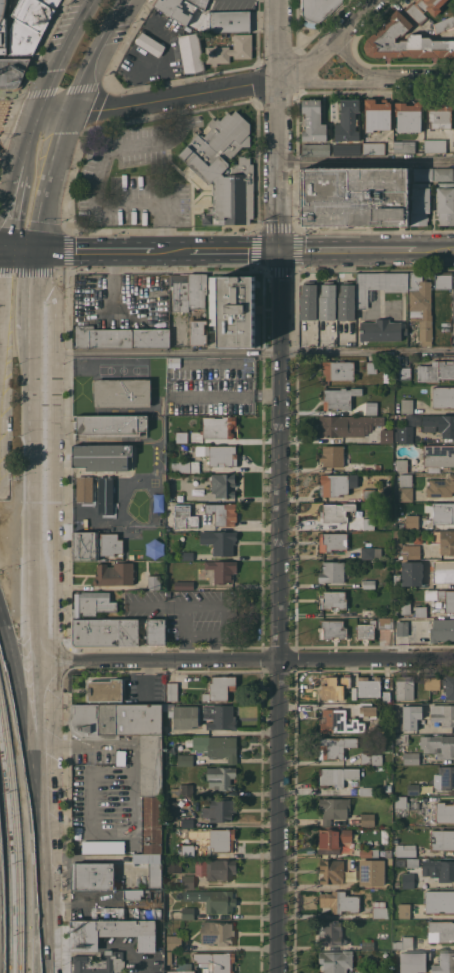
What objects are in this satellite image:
building: (50, 3)
building: (199, 3)
building: (429, 5)
building: (1, 7)
building: (317, 9)
building: (176, 10)
building: (415, 12)
building: (32, 14)
building: (229, 20)
building: (444, 24)
road: (331, 27)
road: (291, 31)
building: (22, 38)
building: (3, 41)
road: (325, 41)
building: (404, 41)
building: (149, 46)
building: (230, 49)
road: (93, 53)
building: (190, 53)
road: (41, 55)
road: (351, 57)
building: (11, 72)
road: (49, 75)
road: (414, 80)
road: (328, 82)
road: (164, 87)
road: (84, 88)
road: (158, 99)
road: (10, 108)
building: (377, 114)
building: (440, 114)
building: (408, 116)
road: (7, 117)
building: (313, 120)
building: (347, 120)
road: (9, 123)
road: (280, 124)
road: (86, 130)
road: (64, 136)
building: (435, 145)
building: (404, 146)
building: (374, 147)
building: (346, 148)
building: (316, 149)
road: (367, 161)
building: (223, 170)
building: (423, 173)
building: (444, 173)
road: (98, 178)
road: (167, 195)
building: (355, 196)
building: (420, 202)
building: (445, 202)
road: (14, 203)
road: (45, 204)
road: (278, 226)
road: (52, 227)
road: (2, 248)
traffic signals: (4, 248)
road: (19, 248)
traffic signals: (34, 249)
road: (351, 249)
road: (439, 249)
road: (93, 250)
road: (171, 250)
road: (234, 250)
road: (261, 250)
traffic signals: (279, 250)
road: (296, 250)
road: (2, 256)
road: (29, 268)
road: (282, 273)
building: (442, 280)
building: (379, 284)
road: (28, 290)
building: (197, 290)
building: (180, 291)
building: (453, 297)
building: (308, 300)
building: (346, 300)
building: (327, 301)
building: (421, 306)
building: (232, 309)
building: (381, 330)
building: (197, 332)
building: (120, 337)
road: (254, 353)
building: (173, 363)
building: (371, 366)
building: (338, 369)
building: (436, 370)
building: (404, 373)
building: (386, 376)
building: (122, 382)
building: (122, 395)
building: (443, 396)
building: (339, 397)
building: (406, 405)
building: (371, 407)
building: (439, 423)
building: (348, 424)
building: (218, 426)
building: (110, 428)
building: (404, 434)
building: (386, 435)
building: (182, 436)
building: (216, 453)
building: (438, 454)
building: (332, 455)
building: (96, 456)
building: (358, 465)
building: (401, 465)
building: (188, 466)
building: (377, 467)
building: (405, 479)
building: (223, 484)
building: (334, 484)
building: (441, 486)
building: (388, 488)
building: (83, 491)
building: (368, 493)
building: (106, 494)
building: (405, 494)
building: (186, 495)
building: (336, 511)
building: (222, 512)
building: (443, 512)
building: (185, 516)
building: (412, 520)
building: (368, 523)
building: (332, 540)
building: (443, 540)
building: (219, 541)
building: (405, 547)
building: (96, 548)
building: (370, 552)
building: (186, 555)
road: (32, 567)
building: (222, 569)
building: (442, 570)
building: (332, 571)
building: (410, 573)
building: (114, 575)
building: (154, 582)
building: (369, 583)
building: (183, 584)
building: (333, 598)
building: (92, 603)
building: (449, 605)
building: (405, 607)
road: (279, 611)
building: (420, 611)
building: (369, 613)
building: (385, 622)
building: (333, 628)
building: (402, 628)
building: (366, 629)
building: (441, 629)
building: (154, 631)
building: (104, 632)
road: (259, 653)
road: (245, 660)
building: (431, 682)
building: (334, 685)
building: (368, 686)
building: (449, 686)
building: (220, 687)
building: (404, 687)
building: (105, 689)
building: (172, 691)
building: (386, 696)
road: (21, 705)
building: (366, 708)
building: (442, 713)
building: (185, 716)
building: (219, 716)
building: (411, 716)
building: (339, 721)
railway: (3, 727)
building: (402, 739)
building: (438, 744)
building: (335, 746)
building: (222, 747)
building: (411, 757)
building: (370, 758)
building: (185, 759)
building: (151, 767)
building: (336, 775)
building: (221, 777)
building: (444, 777)
building: (413, 788)
building: (181, 790)
building: (367, 790)
building: (406, 803)
building: (172, 808)
building: (219, 809)
building: (333, 809)
building: (444, 811)
building: (367, 819)
building: (186, 822)
building: (152, 824)
building: (219, 838)
building: (333, 839)
building: (442, 839)
building: (101, 846)
building: (186, 850)
building: (408, 850)
building: (369, 852)
railway: (16, 859)
building: (412, 861)
building: (220, 868)
building: (439, 868)
building: (331, 870)
building: (372, 871)
railway: (7, 873)
building: (154, 874)
building: (92, 875)
building: (407, 879)
building: (187, 881)
road: (41, 887)
building: (134, 893)
building: (216, 900)
building: (339, 901)
building: (439, 901)
building: (146, 908)
building: (380, 909)
building: (404, 910)
building: (187, 912)
building: (440, 931)
building: (216, 932)
building: (113, 933)
building: (331, 933)
building: (173, 941)
building: (404, 942)
building: (368, 945)
building: (168, 957)
building: (215, 961)
building: (336, 961)
building: (413, 961)
building: (98, 962)
building: (444, 963)
building: (182, 968)
building: (368, 971)

